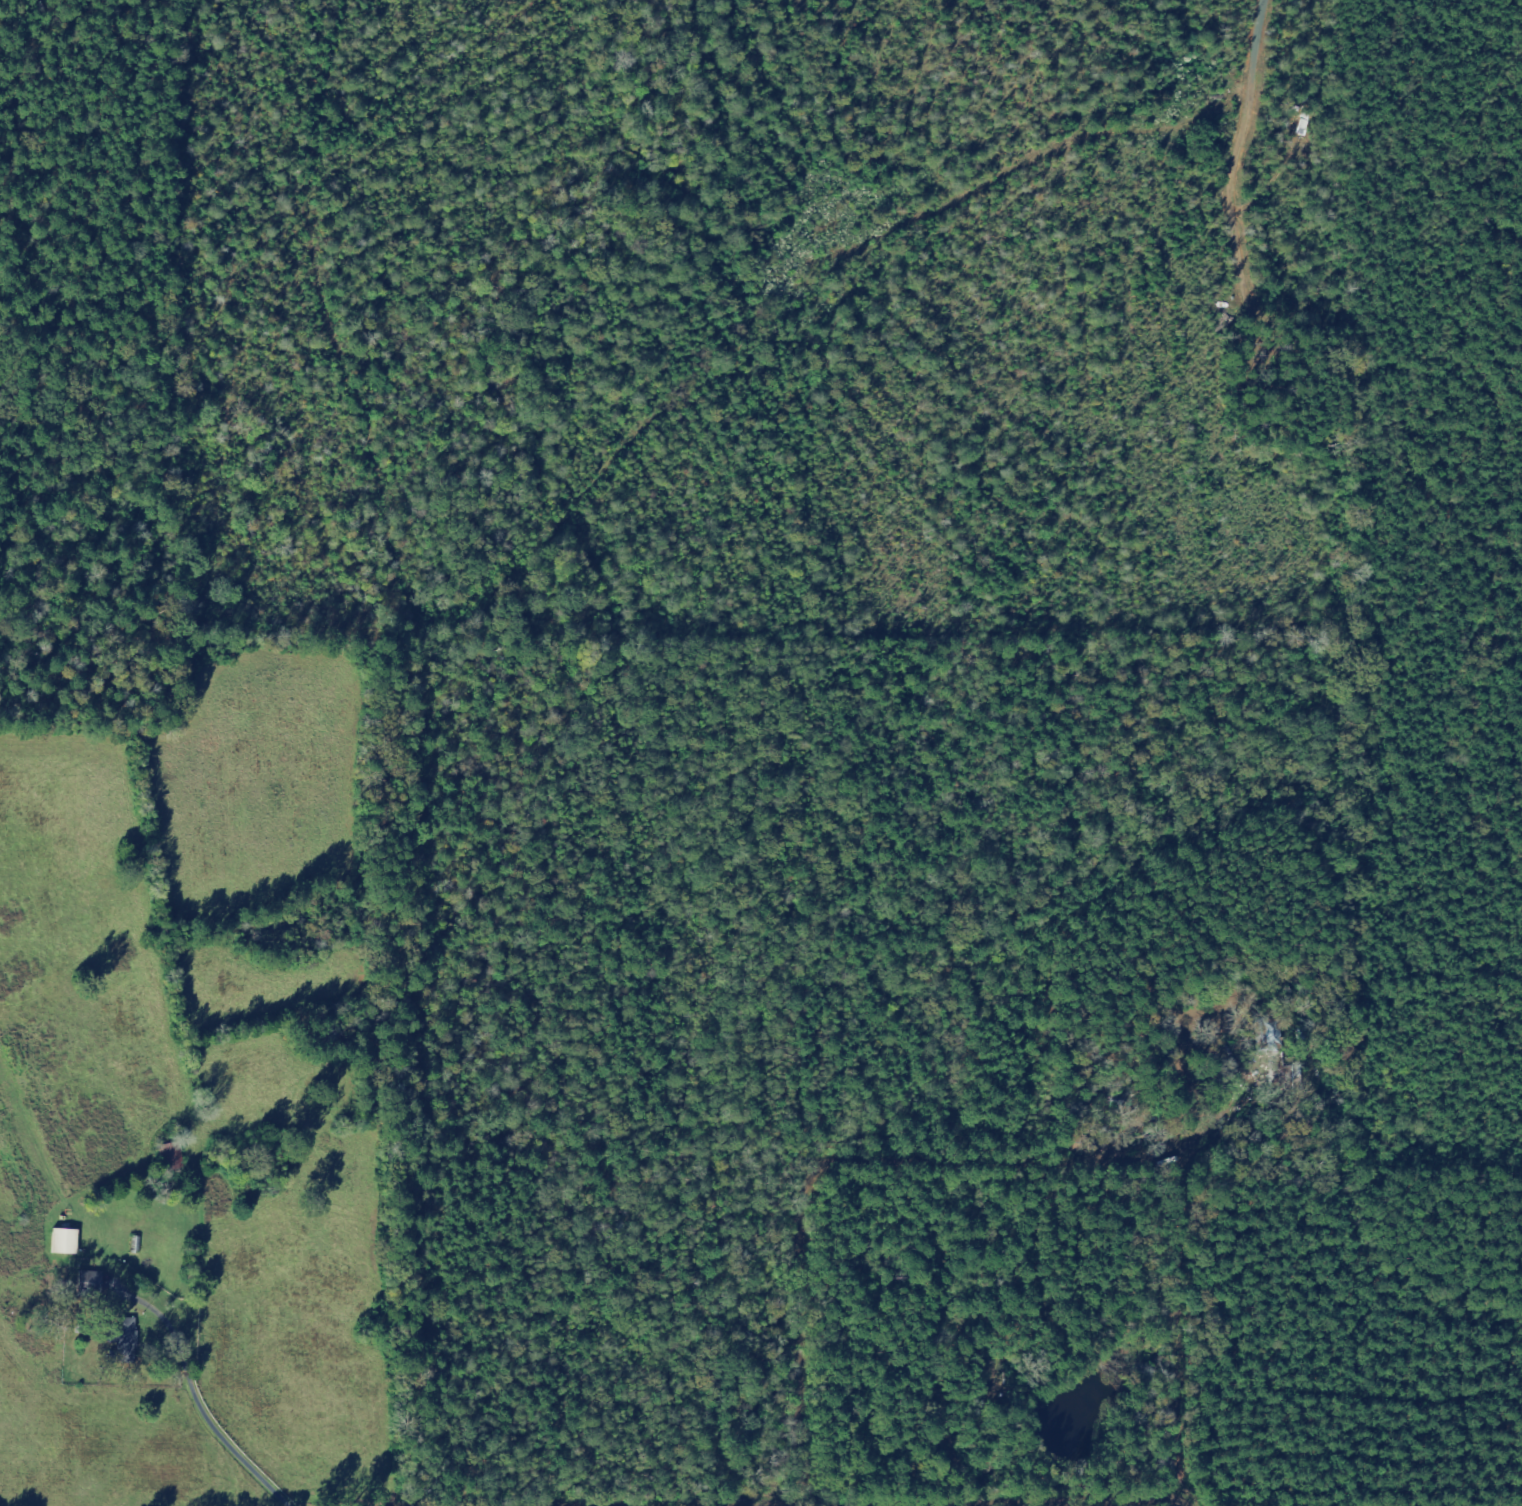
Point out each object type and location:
park: (1282, 388)
road: (884, 1166)
building: (64, 1242)
building: (90, 1283)
building: (126, 1336)
road: (184, 1396)
road: (1122, 1503)

